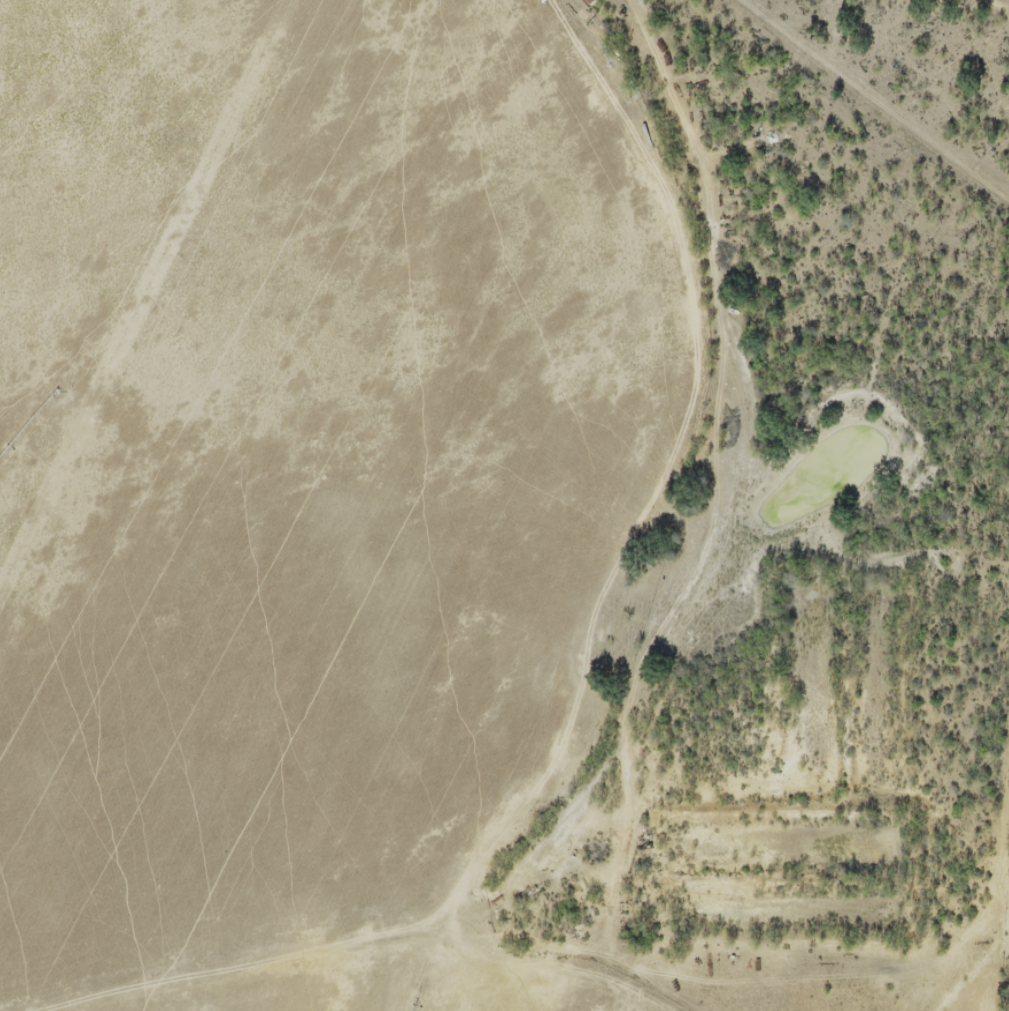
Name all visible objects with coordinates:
building: (614, 82)
road: (707, 202)

